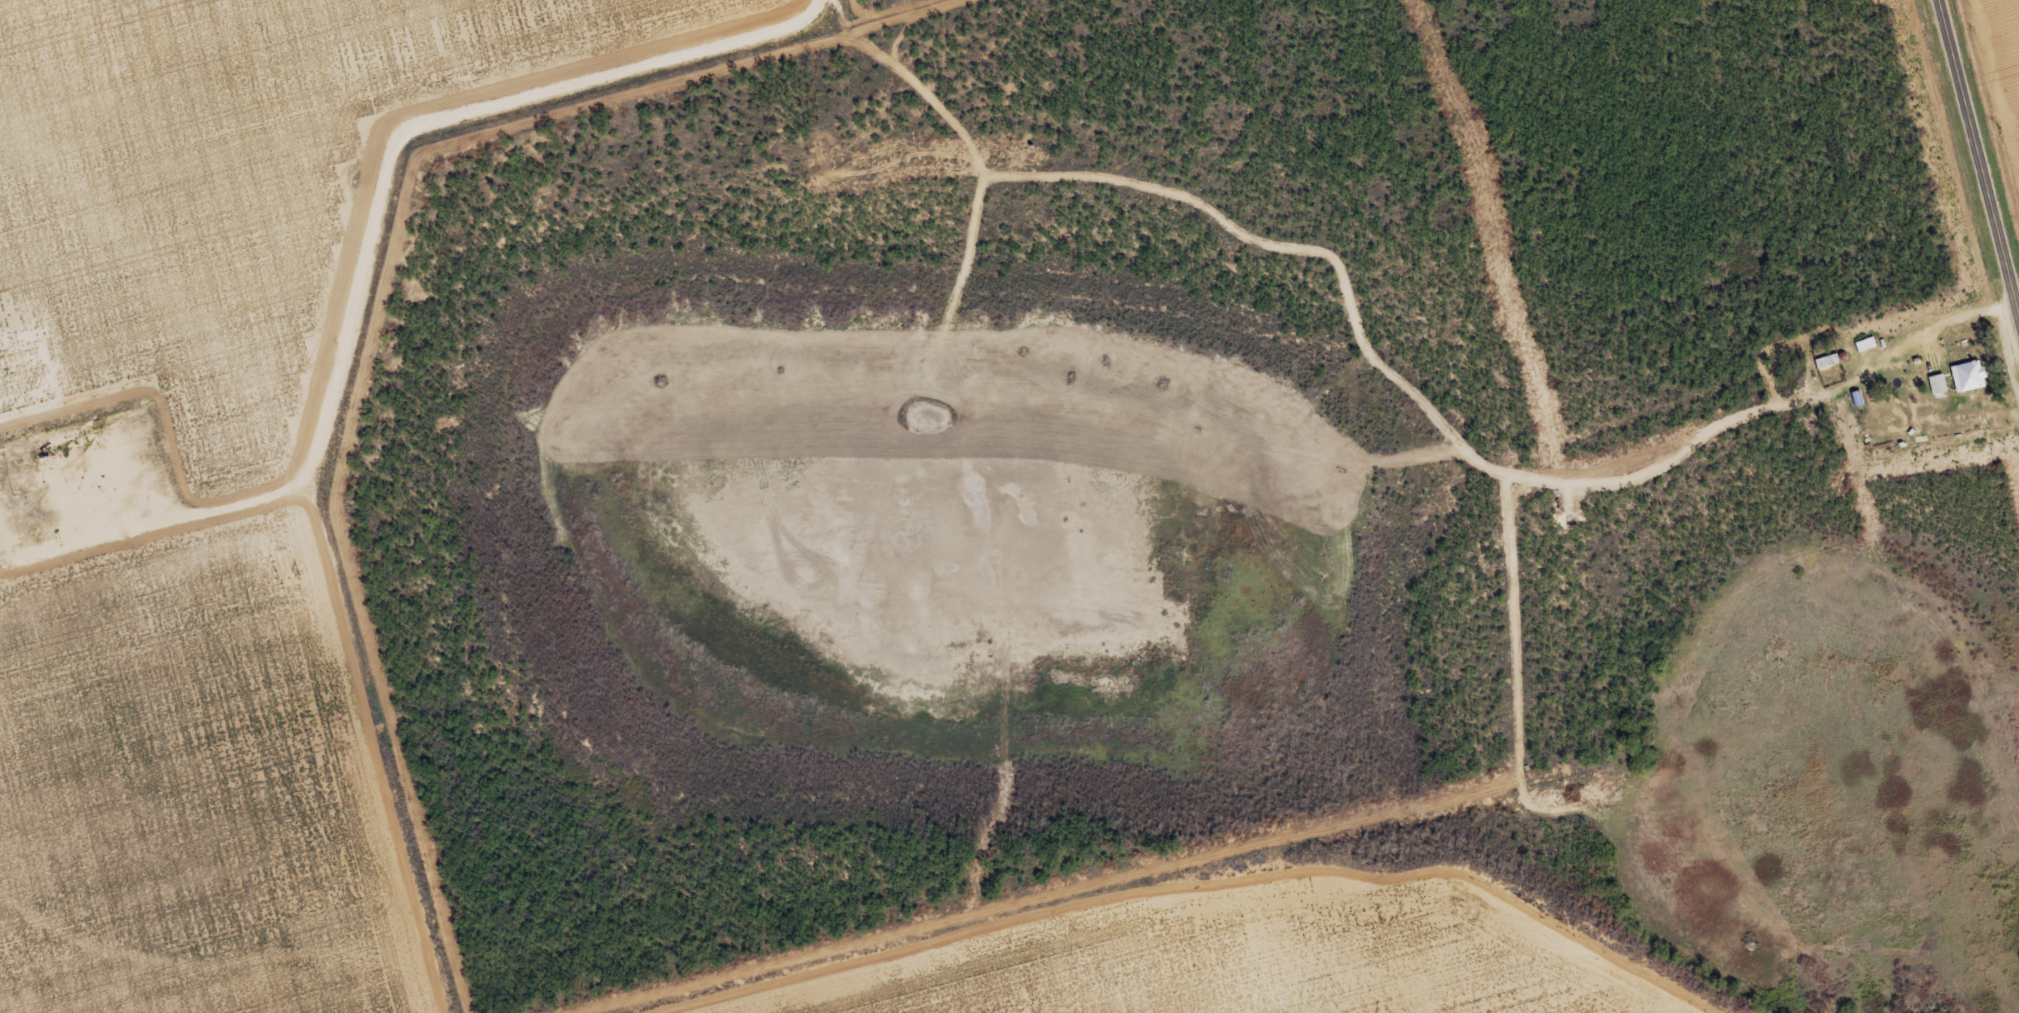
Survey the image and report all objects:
road: (1978, 162)
road: (1929, 322)
building: (1865, 343)
building: (1825, 356)
building: (1973, 374)
building: (1939, 383)

